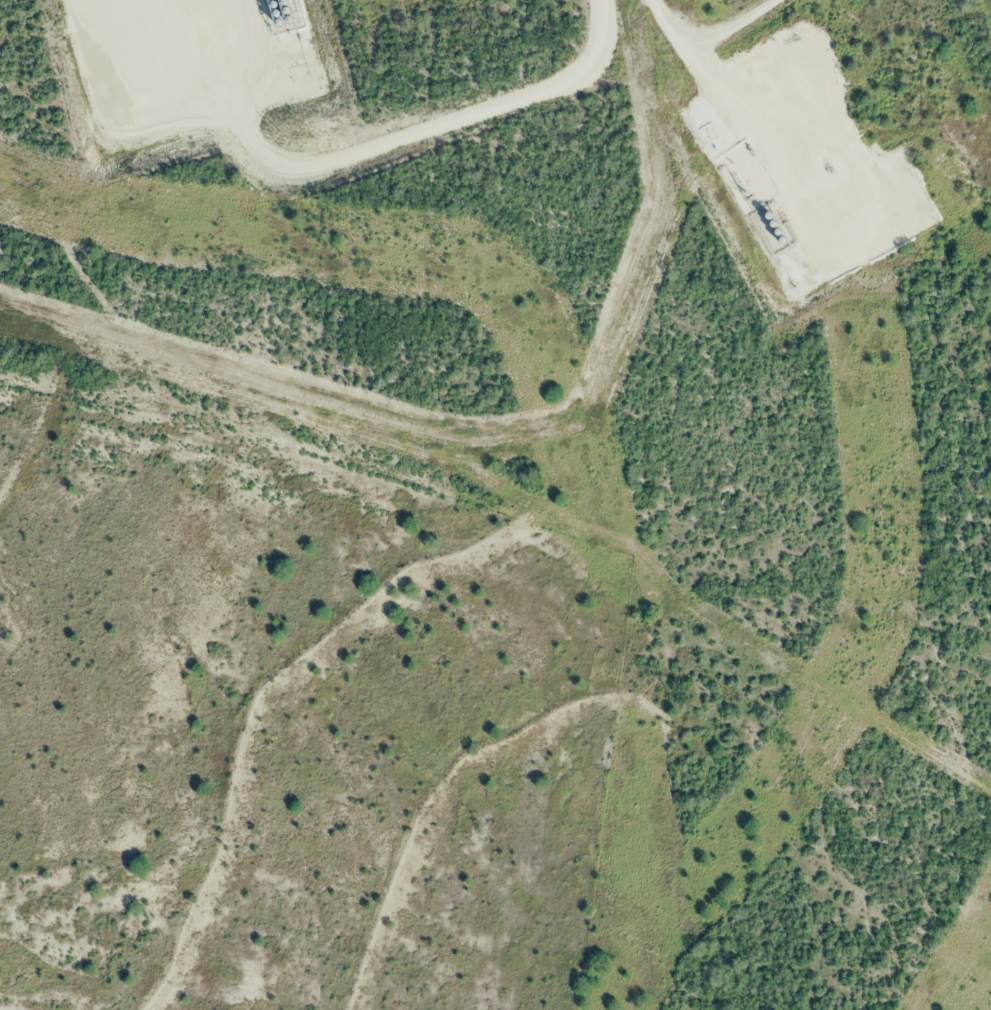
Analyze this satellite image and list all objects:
road: (580, 556)

